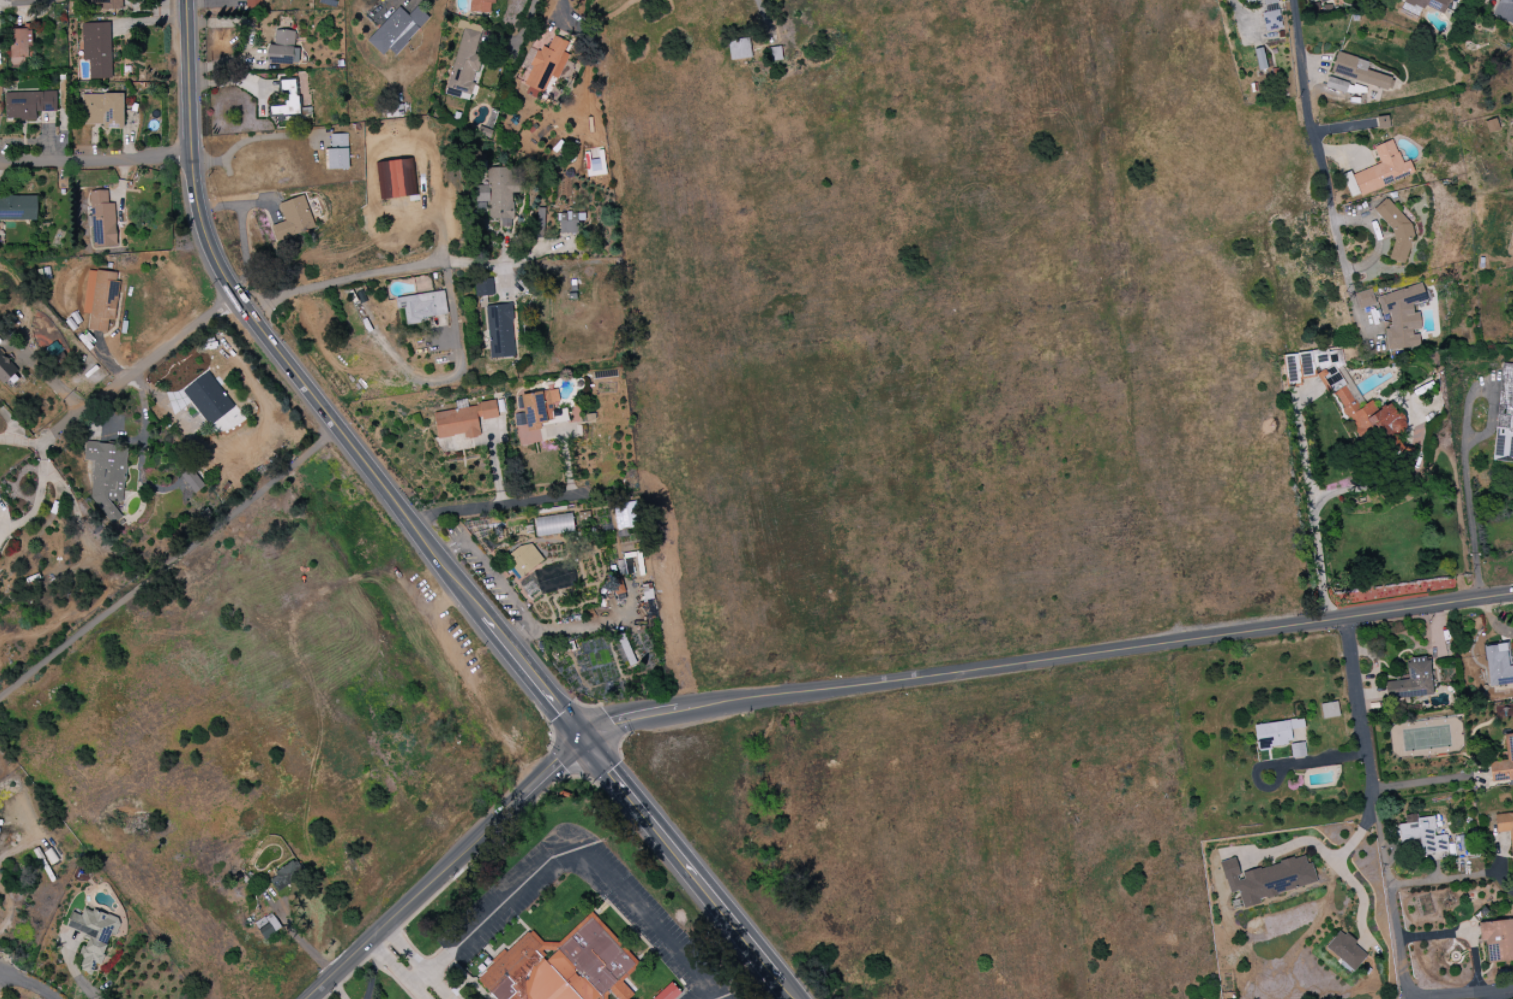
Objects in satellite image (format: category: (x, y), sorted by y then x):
building: (1246, 0)
building: (1323, 1)
building: (107, 4)
building: (1430, 4)
building: (480, 6)
building: (1504, 11)
road: (562, 14)
building: (1271, 15)
road: (1238, 16)
road: (526, 25)
building: (396, 30)
road: (253, 40)
building: (20, 46)
building: (97, 49)
building: (283, 49)
building: (739, 49)
building: (773, 54)
building: (465, 61)
building: (547, 64)
building: (1359, 73)
building: (1336, 85)
building: (288, 99)
building: (28, 105)
building: (102, 110)
road: (251, 139)
building: (338, 151)
road: (97, 160)
road: (1325, 162)
building: (1379, 171)
building: (397, 179)
building: (18, 208)
building: (293, 219)
building: (103, 220)
building: (568, 223)
road: (345, 280)
building: (483, 287)
building: (101, 298)
building: (1364, 299)
building: (0, 304)
building: (422, 306)
building: (1400, 316)
building: (500, 331)
road: (266, 336)
building: (1296, 368)
building: (5, 369)
road: (138, 369)
building: (212, 404)
building: (534, 415)
building: (1504, 417)
building: (1371, 419)
building: (463, 420)
road: (21, 441)
road: (1465, 459)
building: (107, 476)
building: (190, 481)
road: (1385, 482)
road: (38, 497)
road: (515, 504)
road: (1312, 511)
building: (554, 524)
building: (524, 559)
road: (170, 563)
building: (625, 566)
road: (495, 581)
building: (1498, 666)
road: (534, 679)
building: (1411, 681)
road: (856, 685)
road: (1361, 704)
building: (1329, 710)
building: (1276, 733)
traffic signals: (585, 742)
building: (1297, 750)
building: (1503, 762)
road: (1426, 783)
road: (1369, 808)
building: (1505, 826)
building: (1424, 835)
road: (1316, 845)
road: (572, 848)
road: (683, 862)
building: (286, 875)
road: (1454, 878)
building: (1267, 879)
road: (1362, 898)
road: (1459, 933)
building: (93, 935)
road: (304, 939)
building: (1497, 940)
road: (1396, 944)
building: (1346, 950)
road: (408, 964)
building: (562, 966)
road: (35, 982)
road: (787, 991)
road: (1470, 991)
building: (668, 992)

